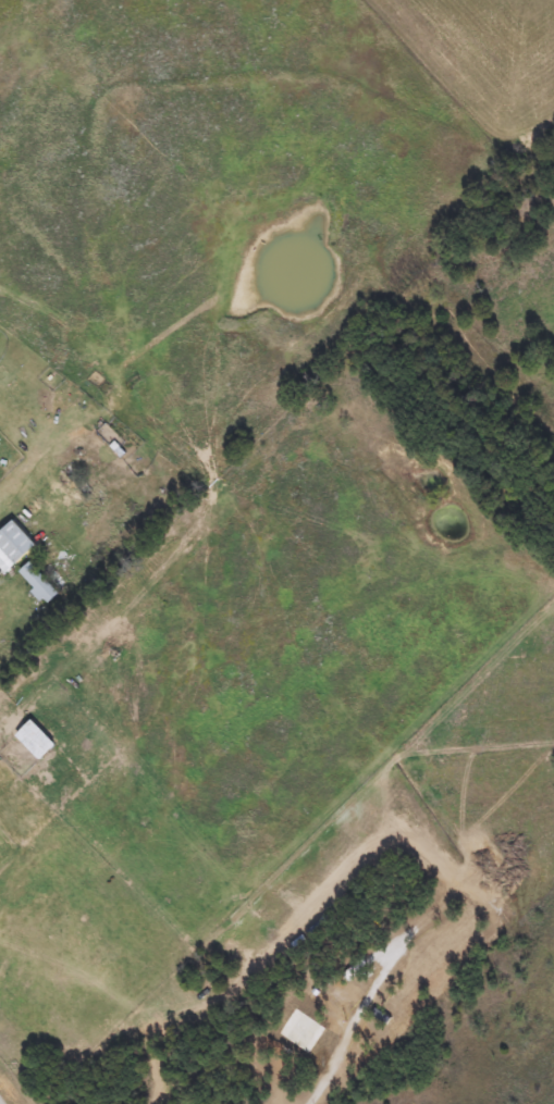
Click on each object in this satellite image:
building: (16, 387)
building: (15, 542)
building: (38, 582)
building: (35, 739)
building: (368, 984)
road: (328, 1064)

